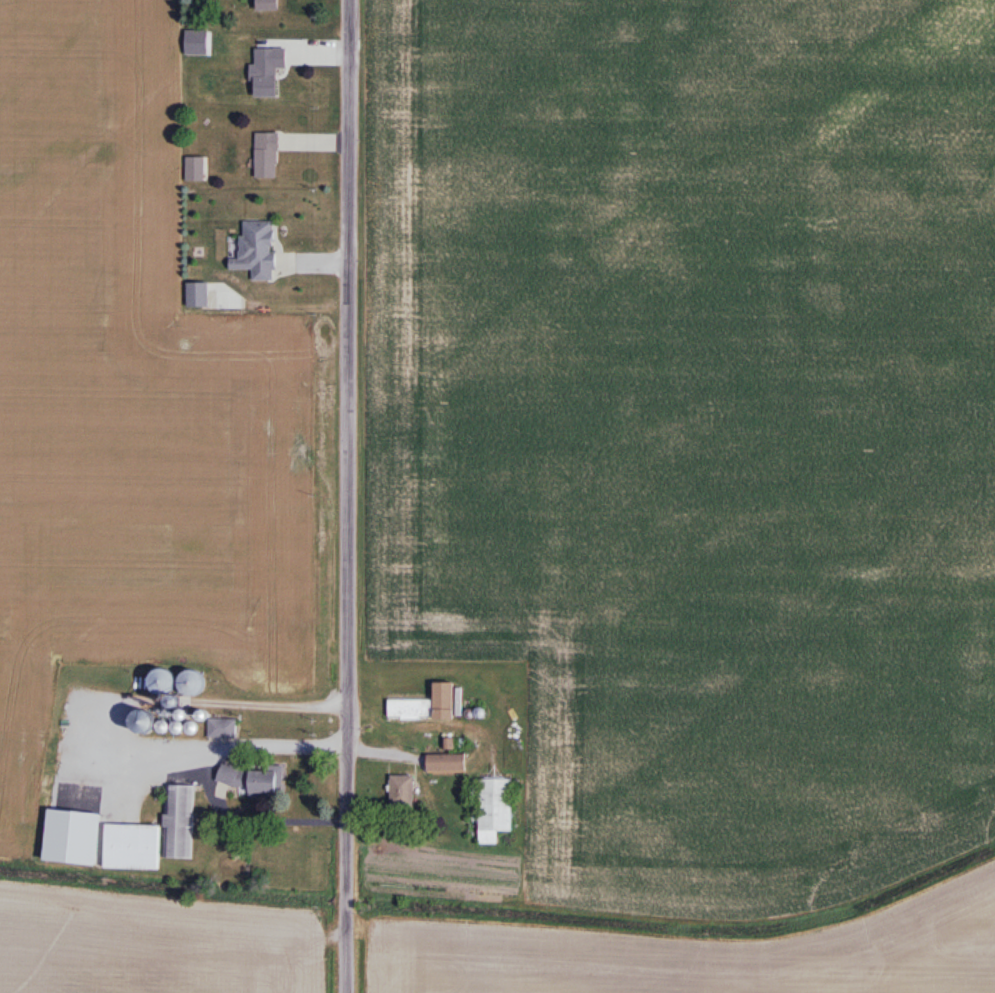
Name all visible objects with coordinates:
building: (266, 5)
building: (266, 73)
building: (267, 155)
building: (196, 169)
building: (257, 250)
building: (198, 295)
road: (345, 496)
building: (190, 682)
building: (427, 704)
building: (143, 721)
building: (179, 727)
building: (223, 728)
road: (116, 732)
building: (447, 763)
building: (249, 778)
building: (403, 790)
building: (496, 808)
road: (252, 813)
building: (180, 821)
building: (132, 846)

